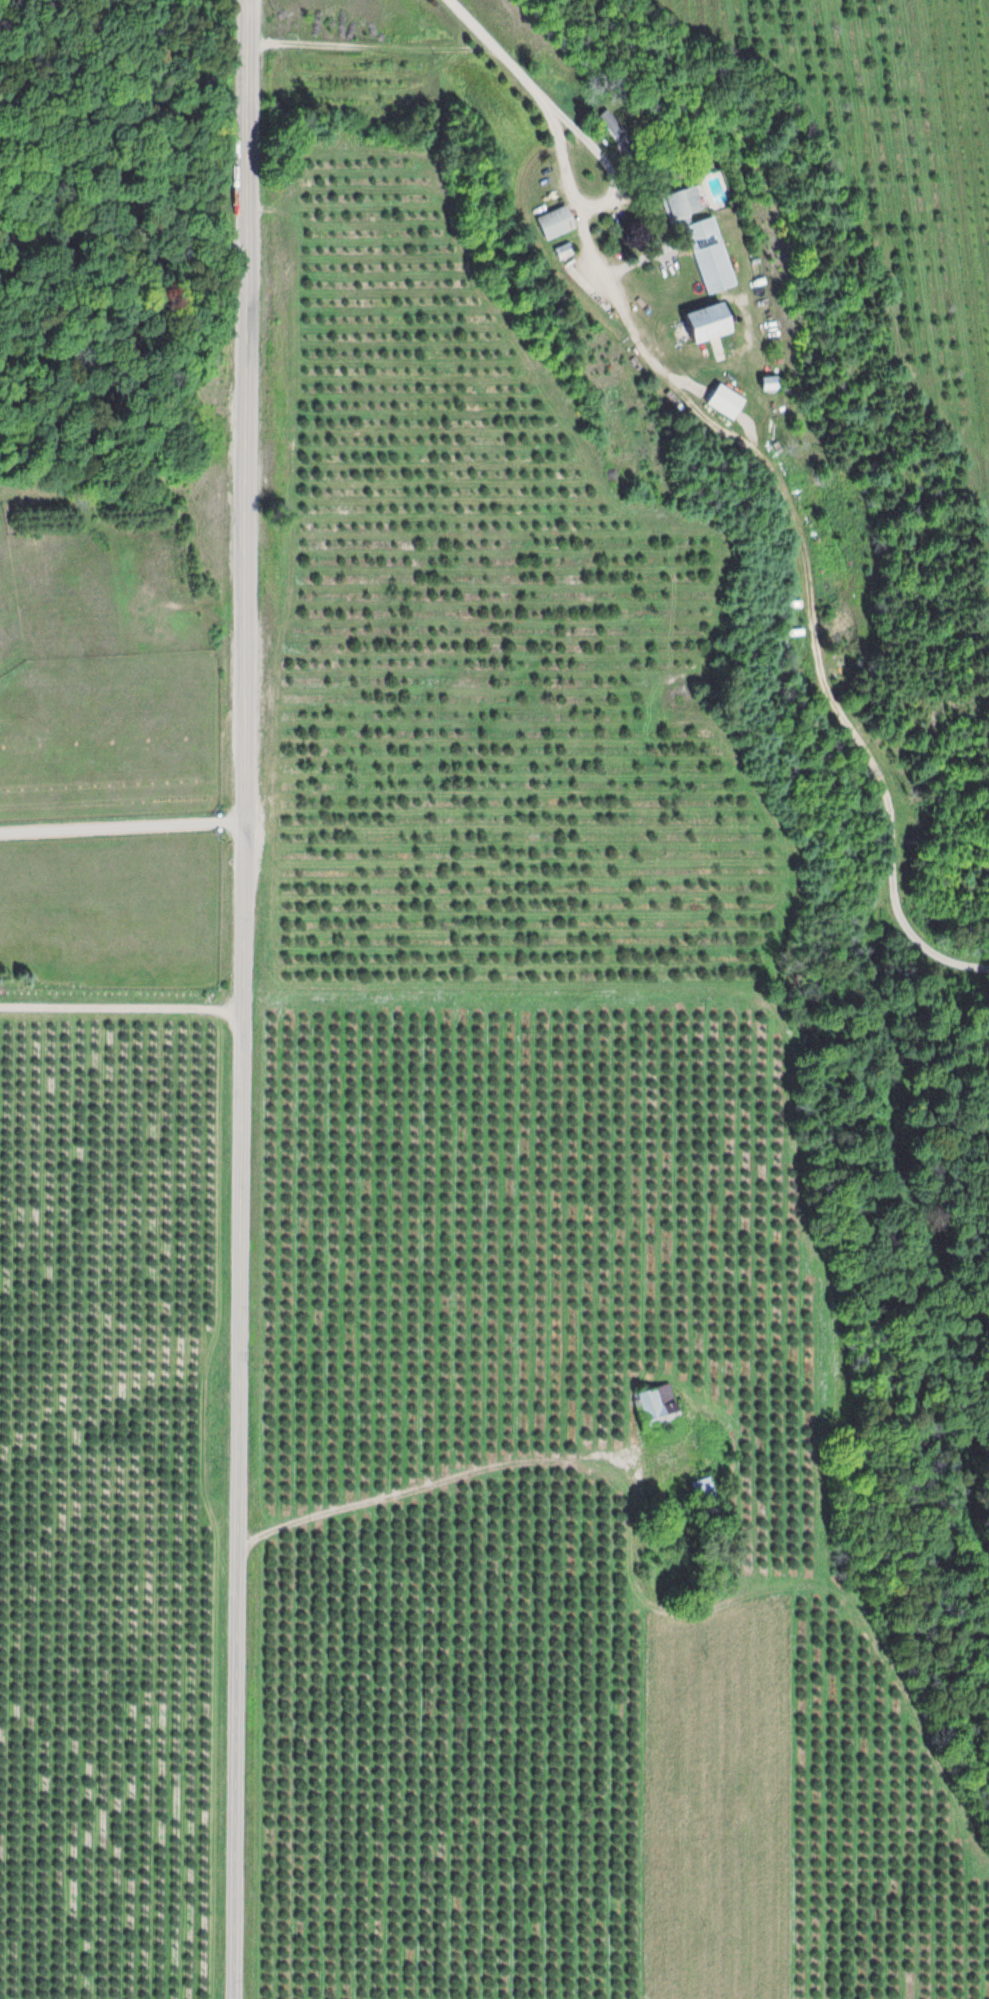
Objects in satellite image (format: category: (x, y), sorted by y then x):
road: (369, 47)
road: (533, 89)
building: (605, 122)
building: (548, 224)
building: (697, 241)
building: (558, 253)
building: (696, 324)
building: (763, 384)
building: (719, 403)
road: (123, 829)
road: (245, 999)
road: (122, 1008)
building: (650, 1408)
road: (462, 1476)
building: (699, 1492)

